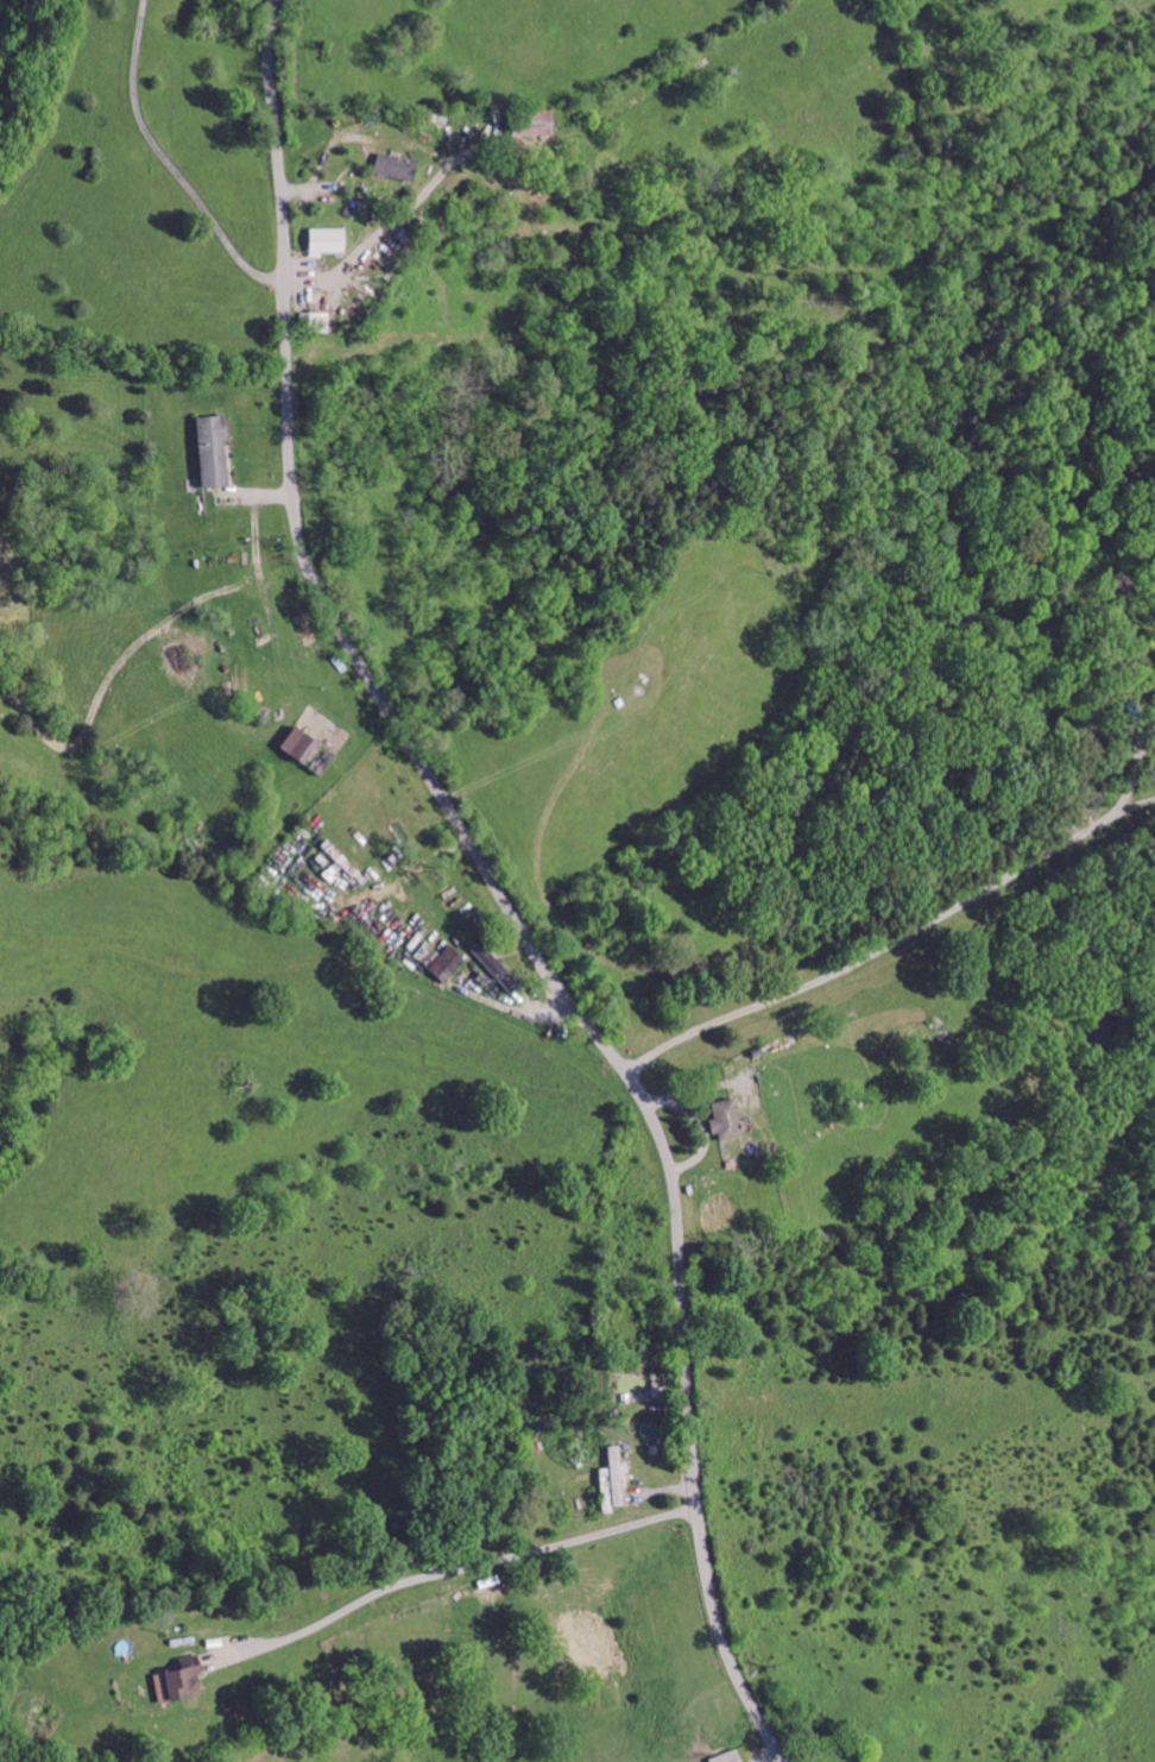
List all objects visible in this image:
building: (585, 102)
building: (448, 147)
road: (169, 162)
building: (379, 222)
road: (380, 229)
building: (267, 430)
building: (355, 724)
road: (500, 888)
road: (914, 935)
building: (781, 1099)
building: (665, 1461)
road: (460, 1566)
building: (787, 1747)

